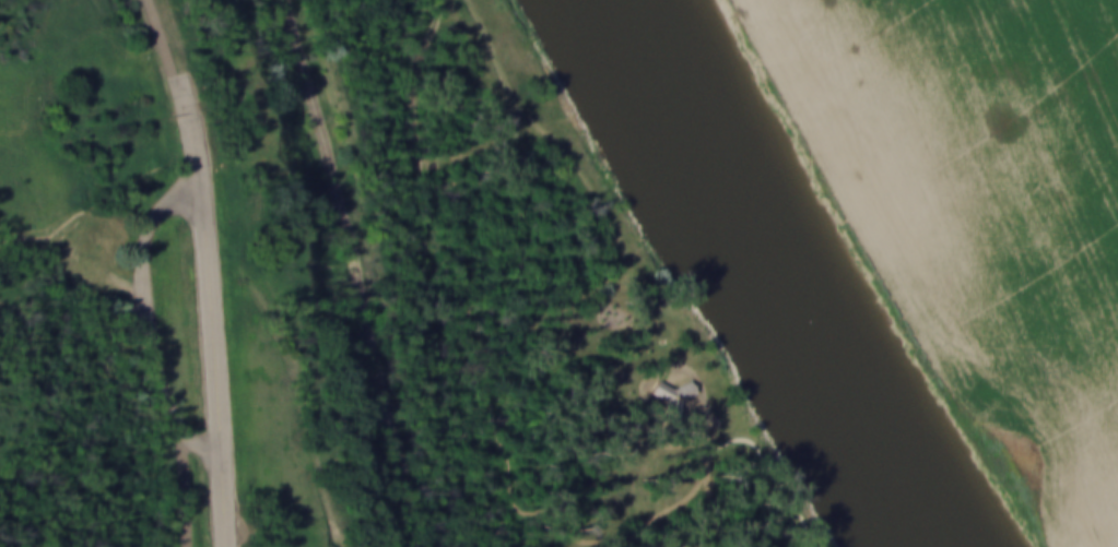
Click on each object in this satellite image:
road: (562, 169)
road: (145, 259)
railway: (364, 273)
river: (770, 274)
park: (390, 290)
road: (215, 365)
building: (671, 395)

